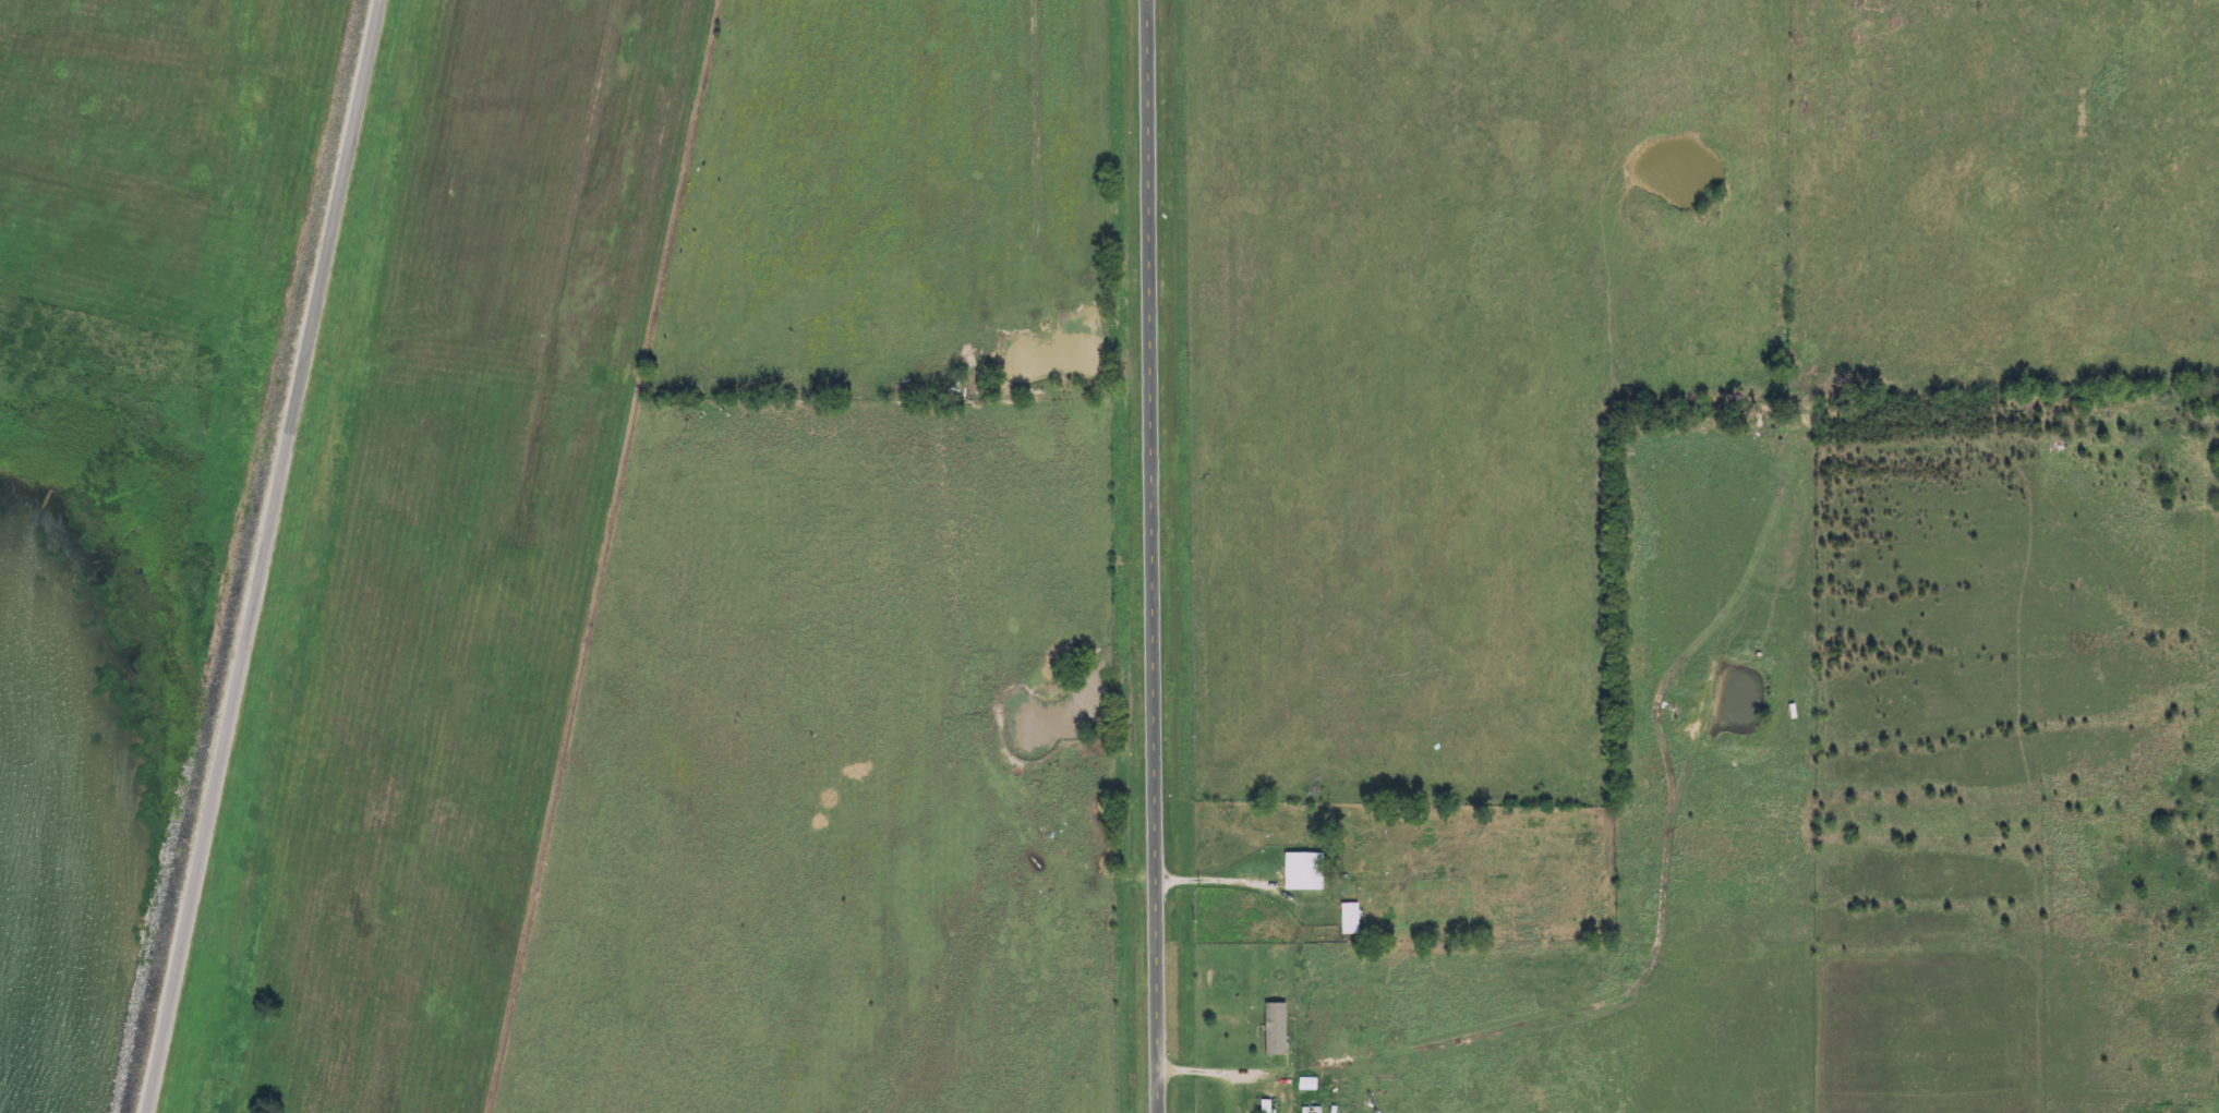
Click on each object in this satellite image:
road: (269, 556)
road: (1151, 556)
dam: (273, 590)
building: (1305, 871)
road: (1219, 881)
building: (1352, 918)
building: (1278, 1028)
road: (1214, 1074)
building: (1309, 1084)

